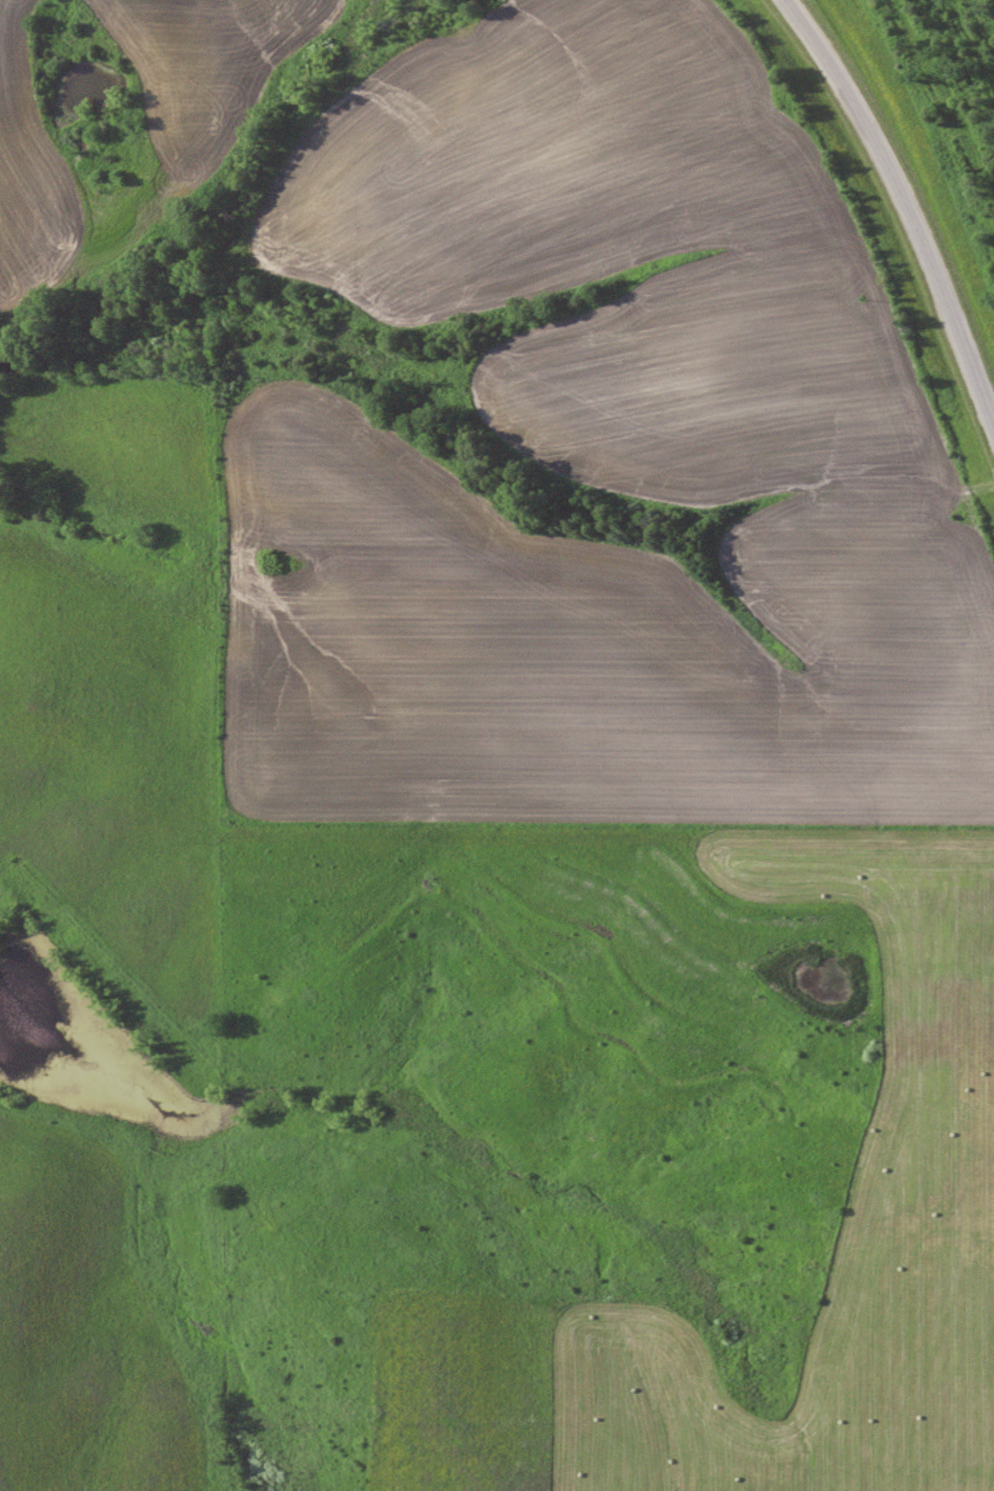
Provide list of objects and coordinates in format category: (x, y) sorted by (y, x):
road: (904, 203)

